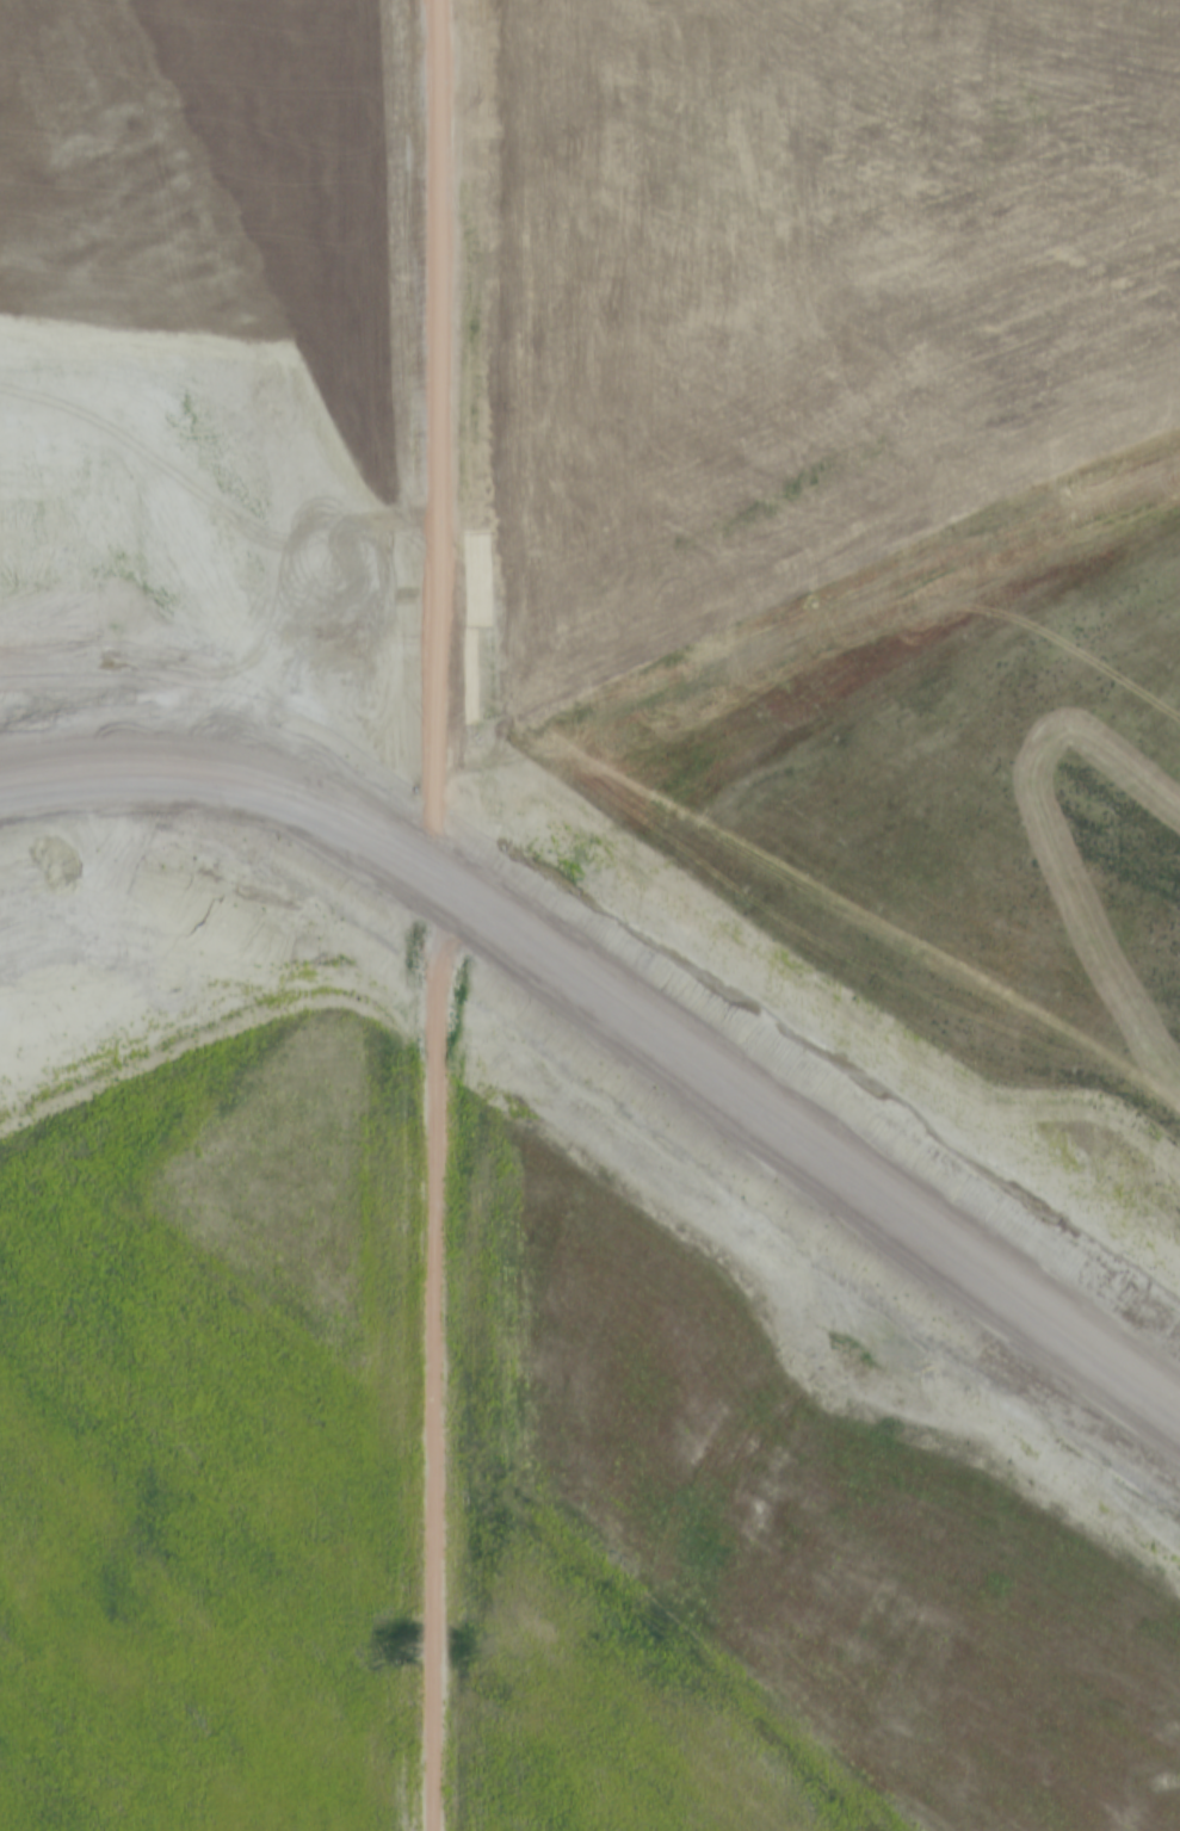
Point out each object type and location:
quarry: (996, 144)

